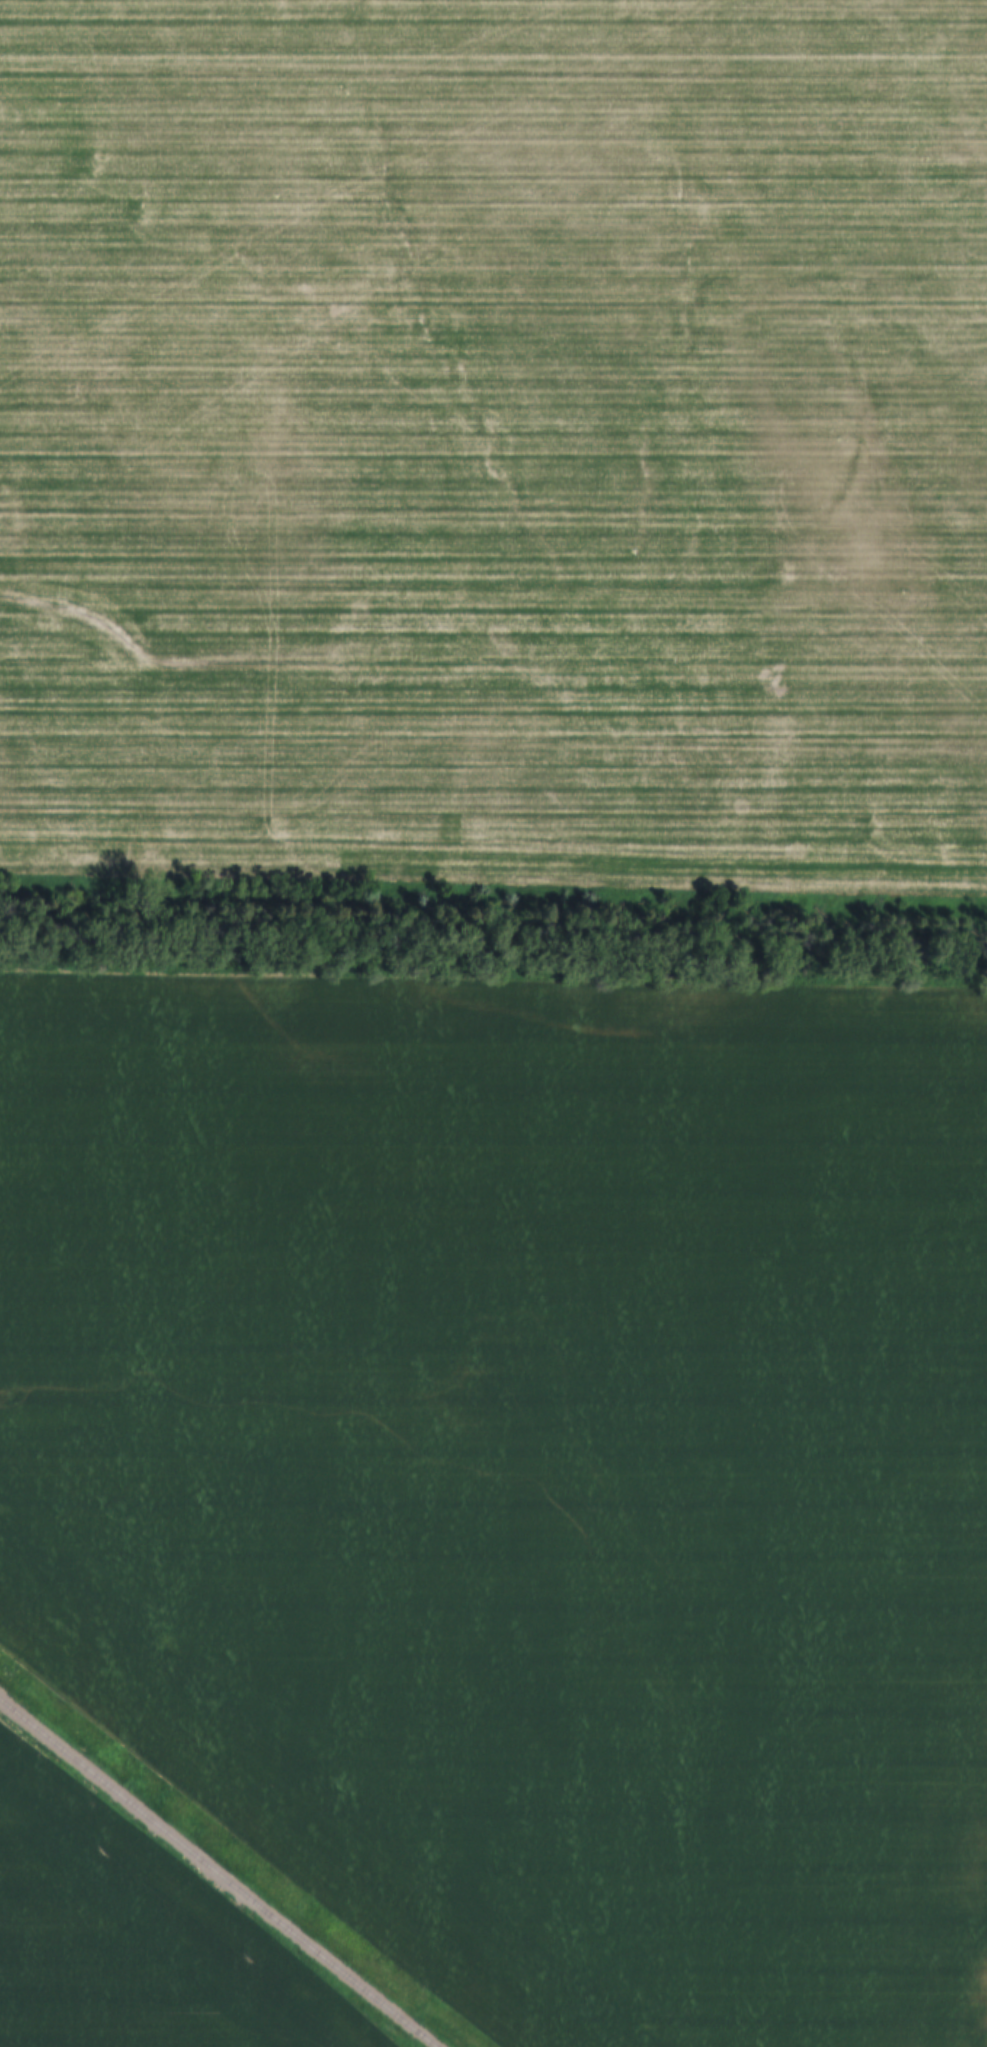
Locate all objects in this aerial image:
railway: (219, 1871)

